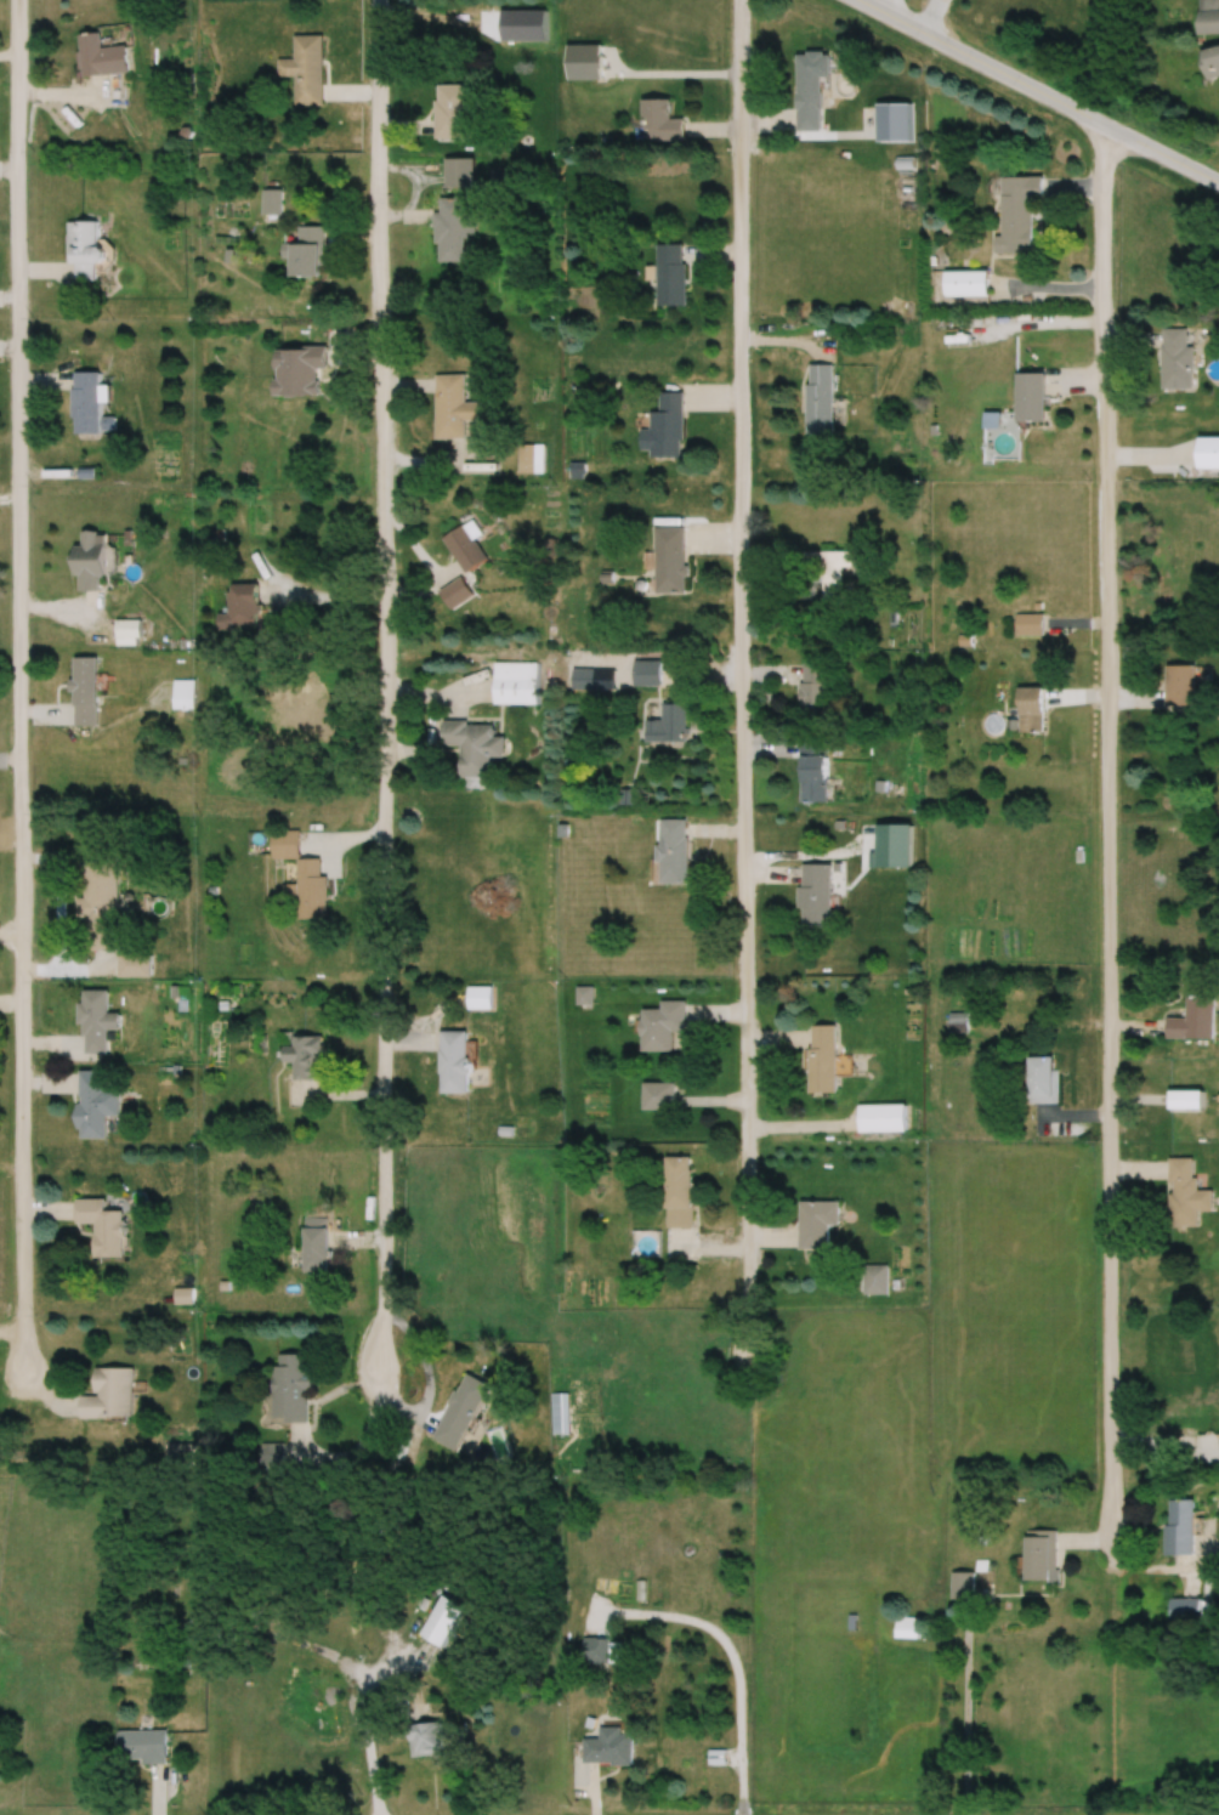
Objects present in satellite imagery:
road: (896, 11)
building: (1209, 16)
road: (931, 18)
building: (101, 56)
building: (1211, 62)
building: (304, 68)
building: (807, 75)
road: (1036, 93)
building: (449, 110)
building: (807, 117)
building: (660, 121)
building: (459, 172)
building: (1015, 212)
building: (452, 228)
building: (83, 250)
building: (308, 251)
building: (670, 274)
building: (965, 283)
building: (1175, 358)
building: (299, 370)
building: (1031, 397)
building: (818, 399)
building: (87, 404)
building: (453, 405)
building: (663, 427)
building: (1208, 452)
building: (465, 545)
building: (669, 558)
building: (89, 561)
building: (827, 571)
building: (242, 603)
building: (1027, 623)
building: (127, 631)
building: (646, 671)
building: (580, 677)
road: (744, 679)
road: (380, 680)
building: (514, 682)
building: (1179, 684)
road: (18, 687)
building: (85, 690)
building: (812, 690)
building: (182, 693)
building: (1031, 709)
building: (668, 722)
building: (472, 745)
building: (812, 770)
road: (1107, 836)
building: (673, 850)
building: (300, 875)
building: (815, 895)
building: (100, 904)
building: (134, 964)
building: (477, 997)
building: (1192, 1019)
building: (96, 1021)
building: (957, 1021)
building: (660, 1026)
building: (304, 1056)
building: (823, 1057)
building: (453, 1061)
building: (1041, 1079)
building: (657, 1095)
building: (1185, 1100)
building: (93, 1104)
building: (883, 1117)
building: (676, 1191)
building: (1184, 1193)
building: (817, 1223)
building: (102, 1225)
building: (313, 1249)
building: (875, 1278)
building: (182, 1295)
building: (289, 1386)
building: (109, 1393)
building: (460, 1411)
building: (1179, 1526)
building: (1038, 1554)
building: (962, 1583)
building: (1184, 1607)
building: (446, 1620)
building: (906, 1627)
building: (232, 1635)
building: (596, 1650)
road: (735, 1662)
road: (367, 1726)
building: (427, 1739)
building: (141, 1745)
building: (611, 1747)

